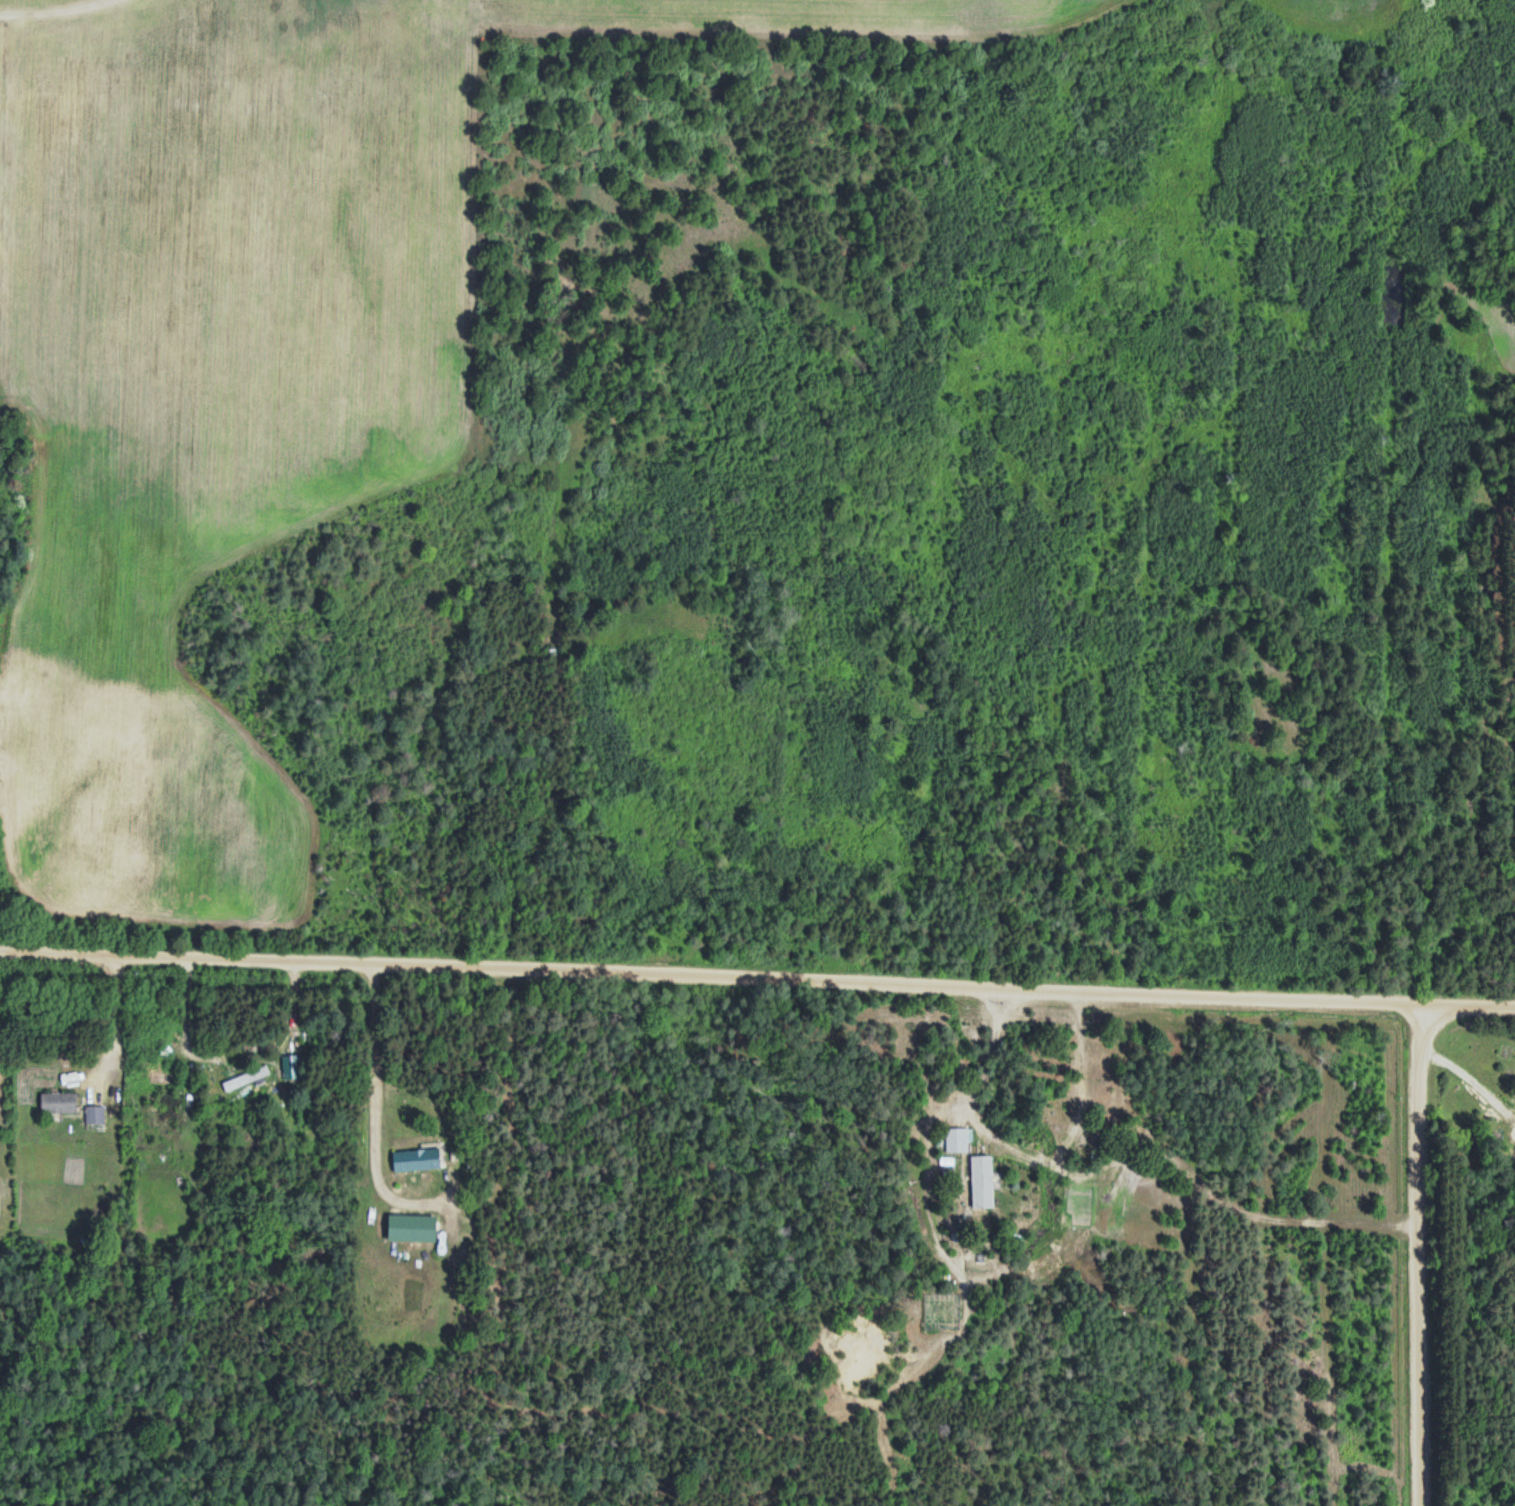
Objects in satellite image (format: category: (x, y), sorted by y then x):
road: (757, 962)
building: (283, 1096)
building: (55, 1101)
building: (92, 1113)
building: (413, 1159)
building: (979, 1177)
road: (1404, 1245)

